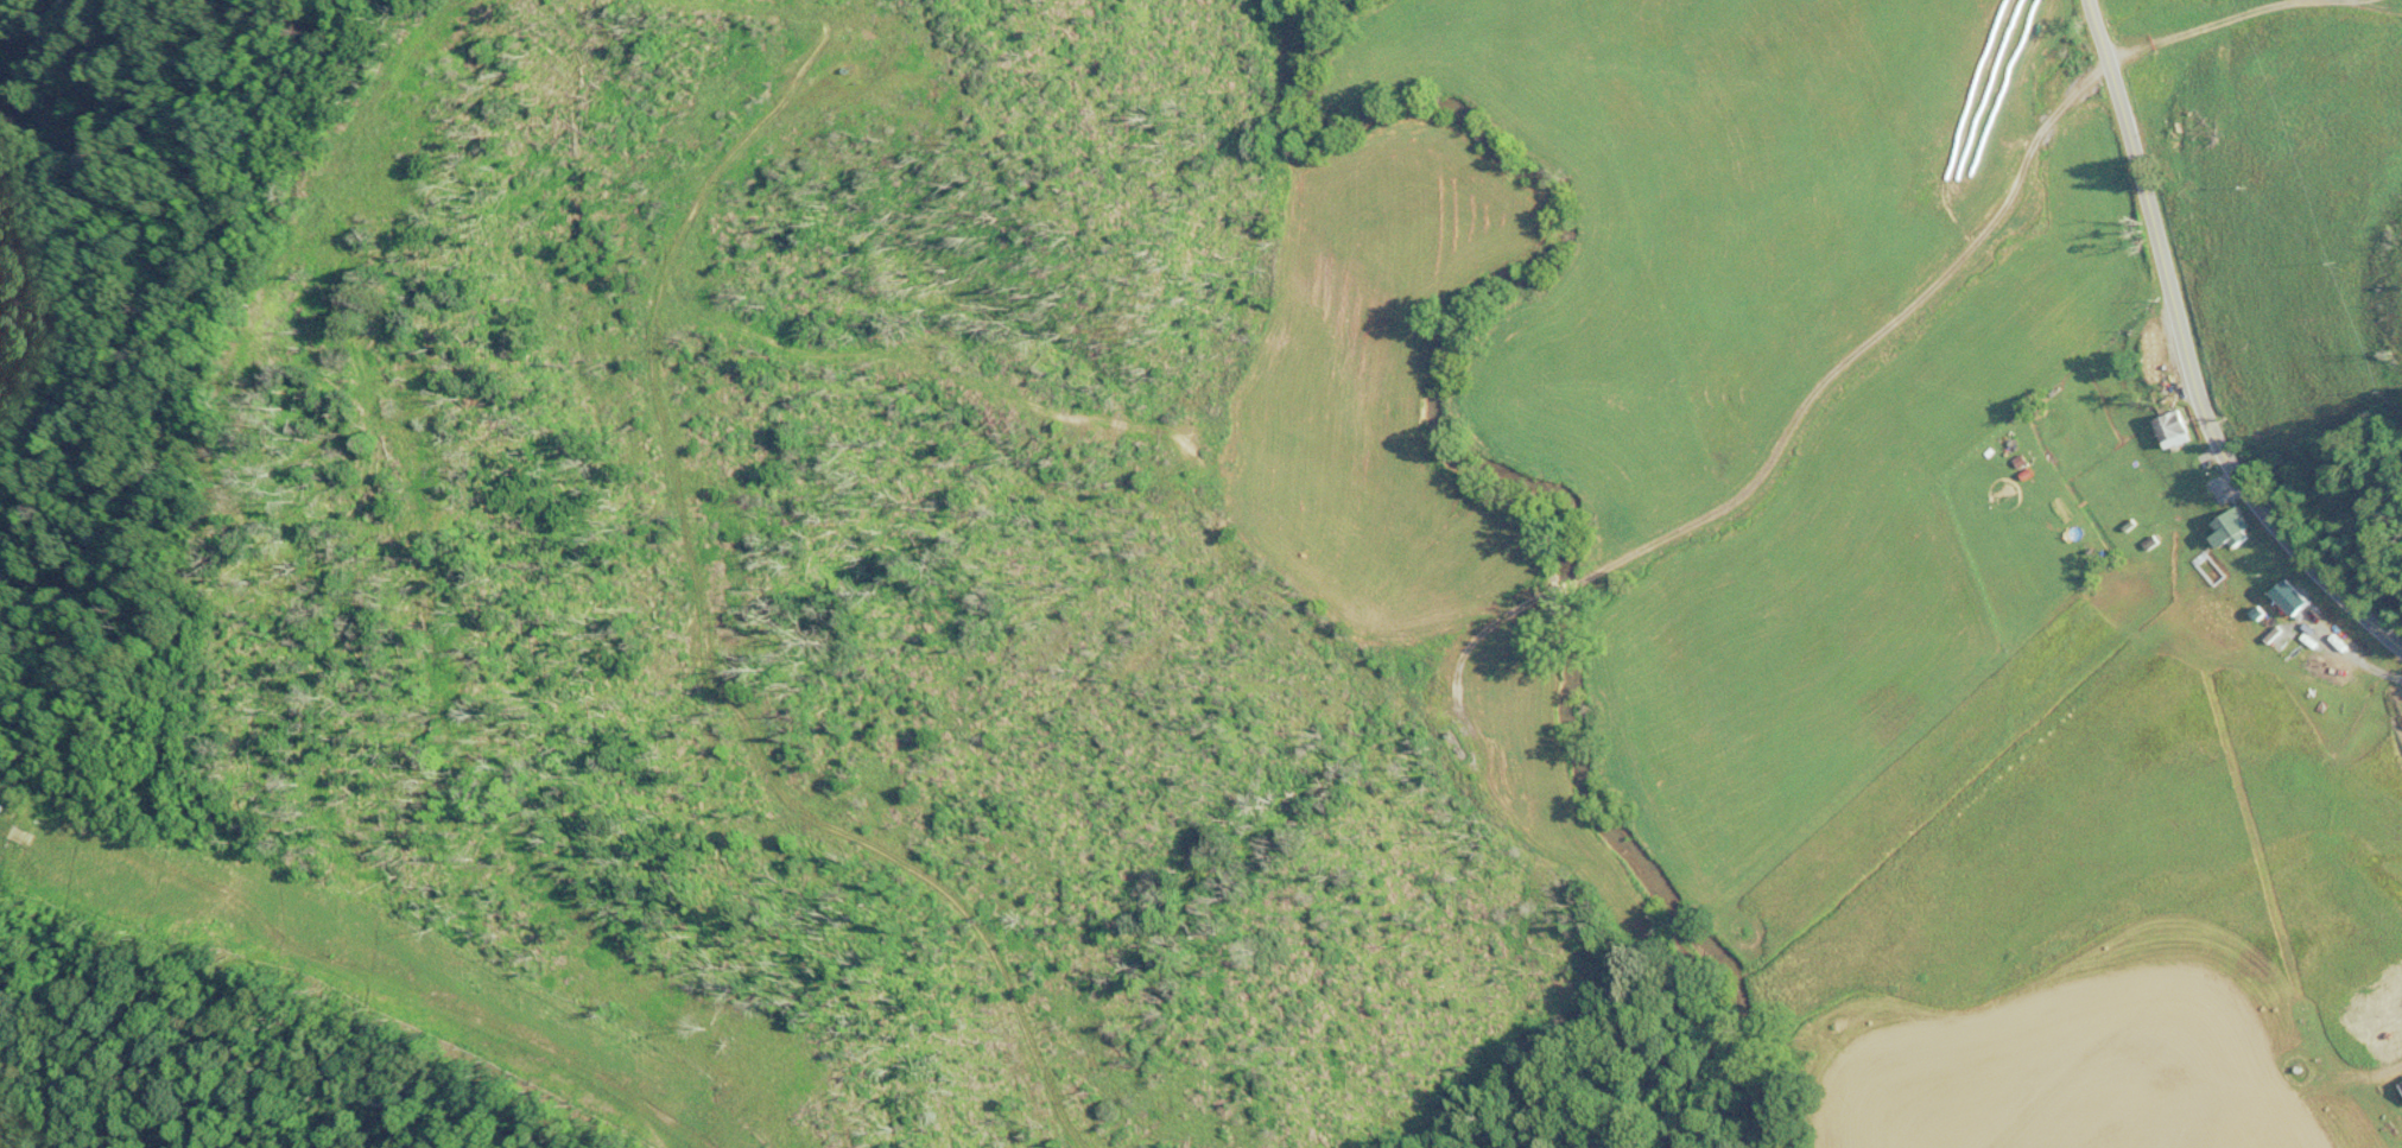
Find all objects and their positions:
road: (2355, 1)
road: (2226, 19)
building: (2169, 138)
road: (1862, 347)
building: (2151, 357)
road: (2185, 357)
building: (2174, 431)
river: (1482, 472)
building: (2232, 531)
road: (1561, 588)
building: (2294, 598)
road: (1468, 648)
road: (2365, 1074)

